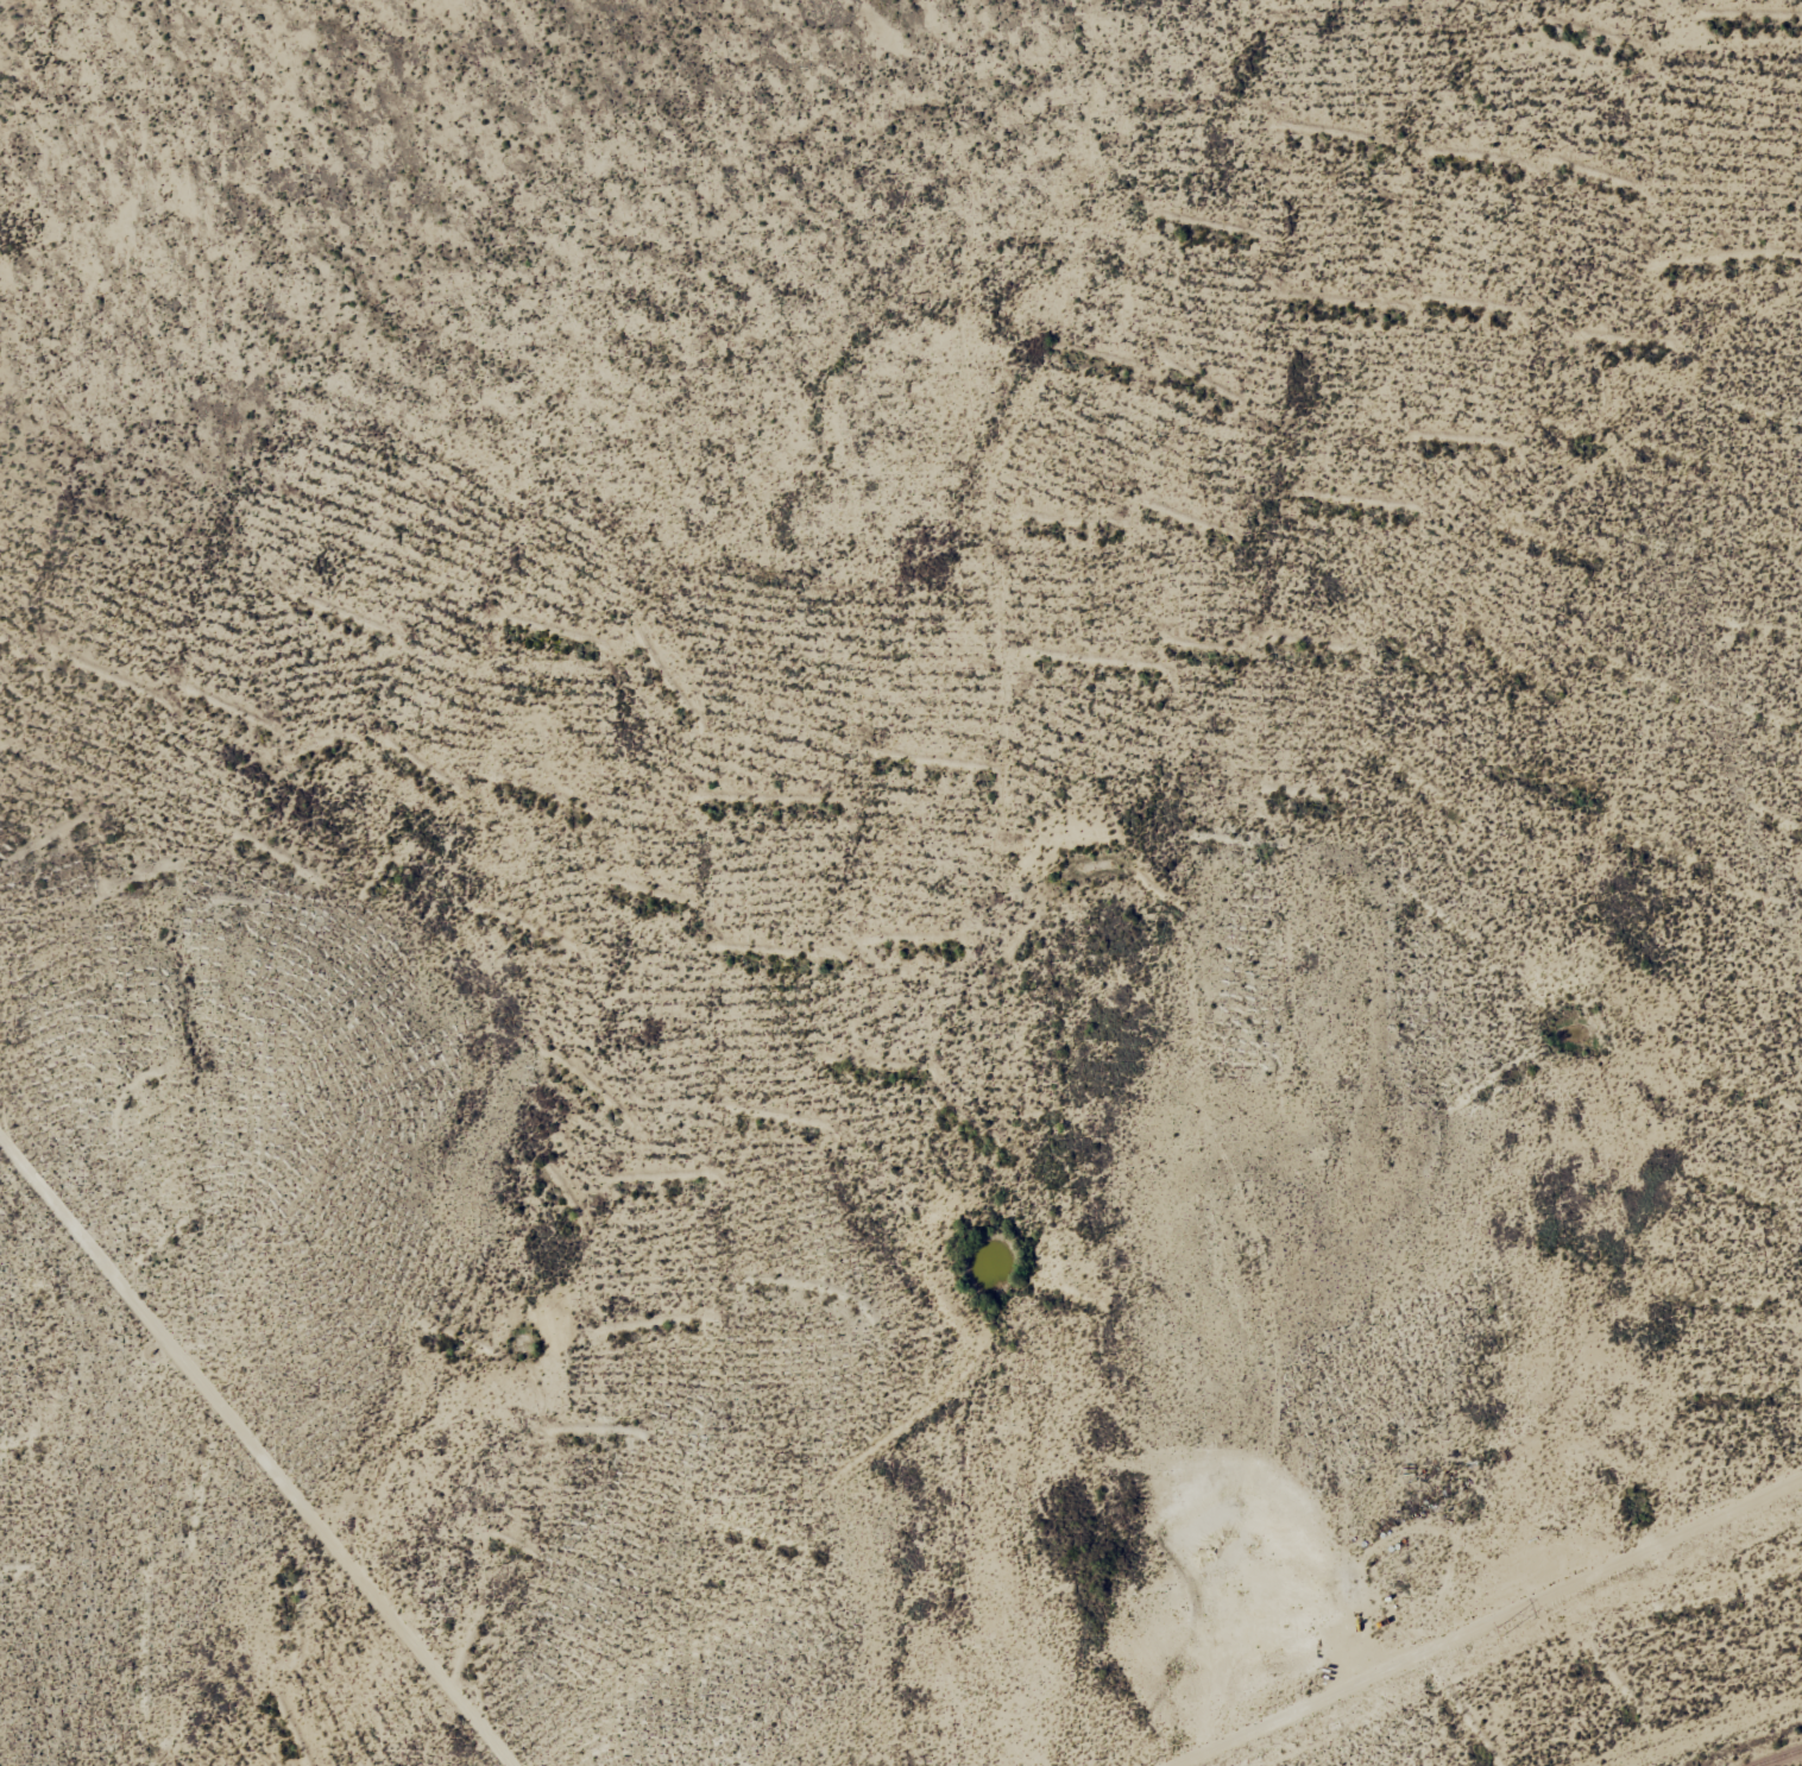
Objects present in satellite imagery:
power tower: (1500, 1631)
road: (1614, 1703)
railway: (1778, 1758)

